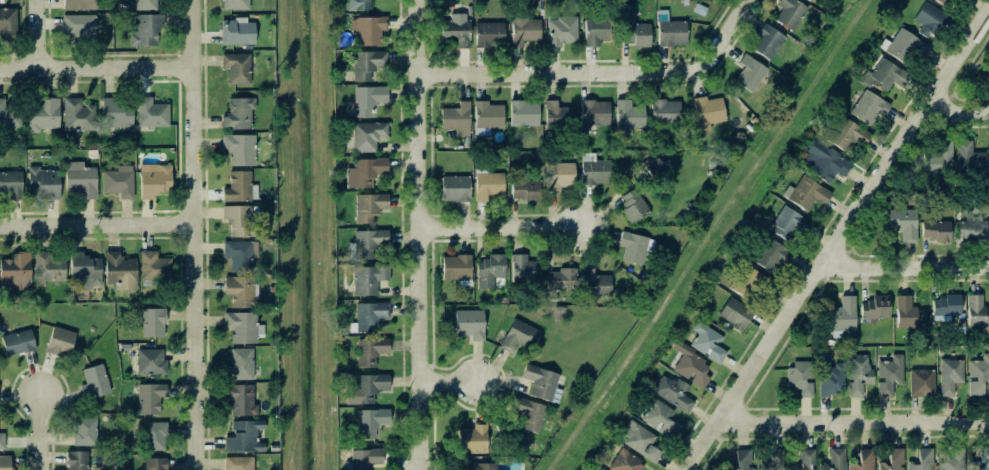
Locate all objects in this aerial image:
building: (961, 0)
building: (812, 1)
building: (943, 2)
building: (80, 4)
building: (235, 4)
building: (145, 5)
building: (358, 5)
building: (790, 13)
building: (929, 20)
building: (8, 24)
building: (78, 27)
building: (147, 30)
building: (368, 30)
building: (457, 30)
building: (525, 31)
building: (562, 31)
building: (597, 31)
building: (671, 31)
building: (237, 32)
road: (37, 34)
building: (638, 34)
building: (489, 35)
building: (767, 42)
building: (904, 46)
building: (367, 64)
building: (237, 68)
road: (96, 69)
road: (605, 72)
building: (750, 73)
building: (885, 77)
building: (368, 100)
building: (869, 107)
road: (954, 111)
building: (665, 112)
building: (708, 112)
building: (117, 113)
building: (152, 113)
building: (524, 113)
building: (594, 113)
building: (43, 114)
building: (239, 114)
building: (78, 115)
building: (558, 115)
building: (9, 116)
building: (628, 117)
building: (487, 118)
building: (457, 119)
building: (848, 135)
building: (368, 136)
building: (239, 149)
building: (970, 158)
building: (939, 160)
building: (824, 161)
building: (653, 167)
building: (594, 170)
building: (365, 172)
building: (560, 176)
building: (81, 180)
building: (154, 180)
building: (119, 182)
building: (43, 183)
building: (11, 184)
building: (488, 185)
building: (240, 188)
building: (455, 188)
building: (525, 190)
building: (807, 194)
building: (634, 206)
building: (369, 207)
building: (239, 221)
road: (97, 223)
building: (903, 224)
building: (789, 225)
building: (973, 228)
road: (502, 231)
building: (936, 231)
road: (194, 235)
road: (425, 235)
road: (836, 240)
building: (370, 243)
building: (635, 247)
building: (240, 255)
building: (772, 256)
road: (905, 264)
building: (154, 266)
building: (84, 267)
building: (456, 268)
building: (48, 269)
building: (524, 270)
building: (120, 271)
building: (489, 271)
building: (15, 272)
building: (369, 279)
building: (561, 279)
building: (749, 282)
building: (595, 284)
building: (241, 291)
building: (947, 307)
building: (876, 308)
building: (977, 311)
building: (733, 313)
building: (909, 314)
building: (370, 315)
building: (841, 317)
building: (153, 322)
building: (470, 324)
building: (242, 327)
building: (518, 336)
building: (60, 342)
building: (18, 343)
building: (708, 343)
building: (371, 351)
building: (151, 362)
building: (240, 365)
building: (692, 366)
building: (858, 374)
building: (890, 375)
building: (951, 376)
building: (978, 376)
road: (452, 379)
building: (800, 380)
building: (832, 380)
building: (94, 382)
building: (542, 383)
building: (922, 383)
building: (367, 388)
building: (674, 393)
building: (150, 398)
building: (240, 400)
building: (530, 414)
building: (660, 418)
road: (851, 421)
building: (370, 422)
building: (85, 430)
road: (41, 431)
building: (155, 436)
building: (245, 437)
building: (473, 440)
building: (2, 441)
building: (640, 441)
building: (366, 459)
building: (742, 459)
building: (807, 459)
building: (77, 460)
building: (835, 460)
building: (864, 460)
building: (893, 460)
building: (922, 460)
building: (953, 460)
building: (983, 460)
building: (623, 461)
building: (774, 461)
building: (5, 462)
building: (239, 463)
building: (155, 464)
building: (480, 466)
building: (600, 469)

